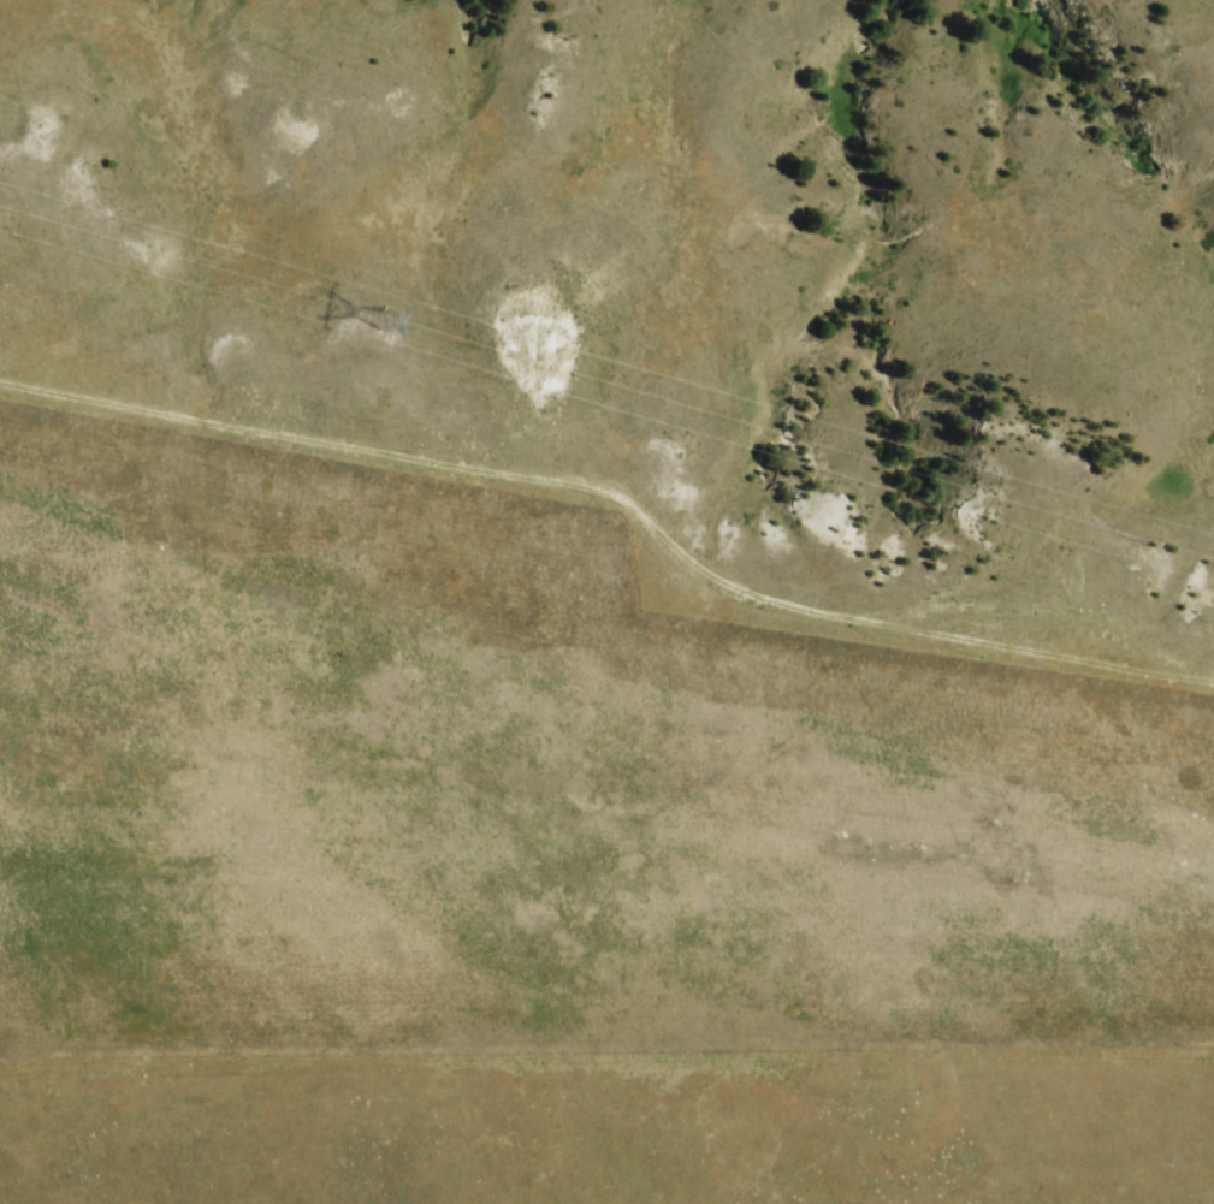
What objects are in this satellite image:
power tower: (390, 312)

